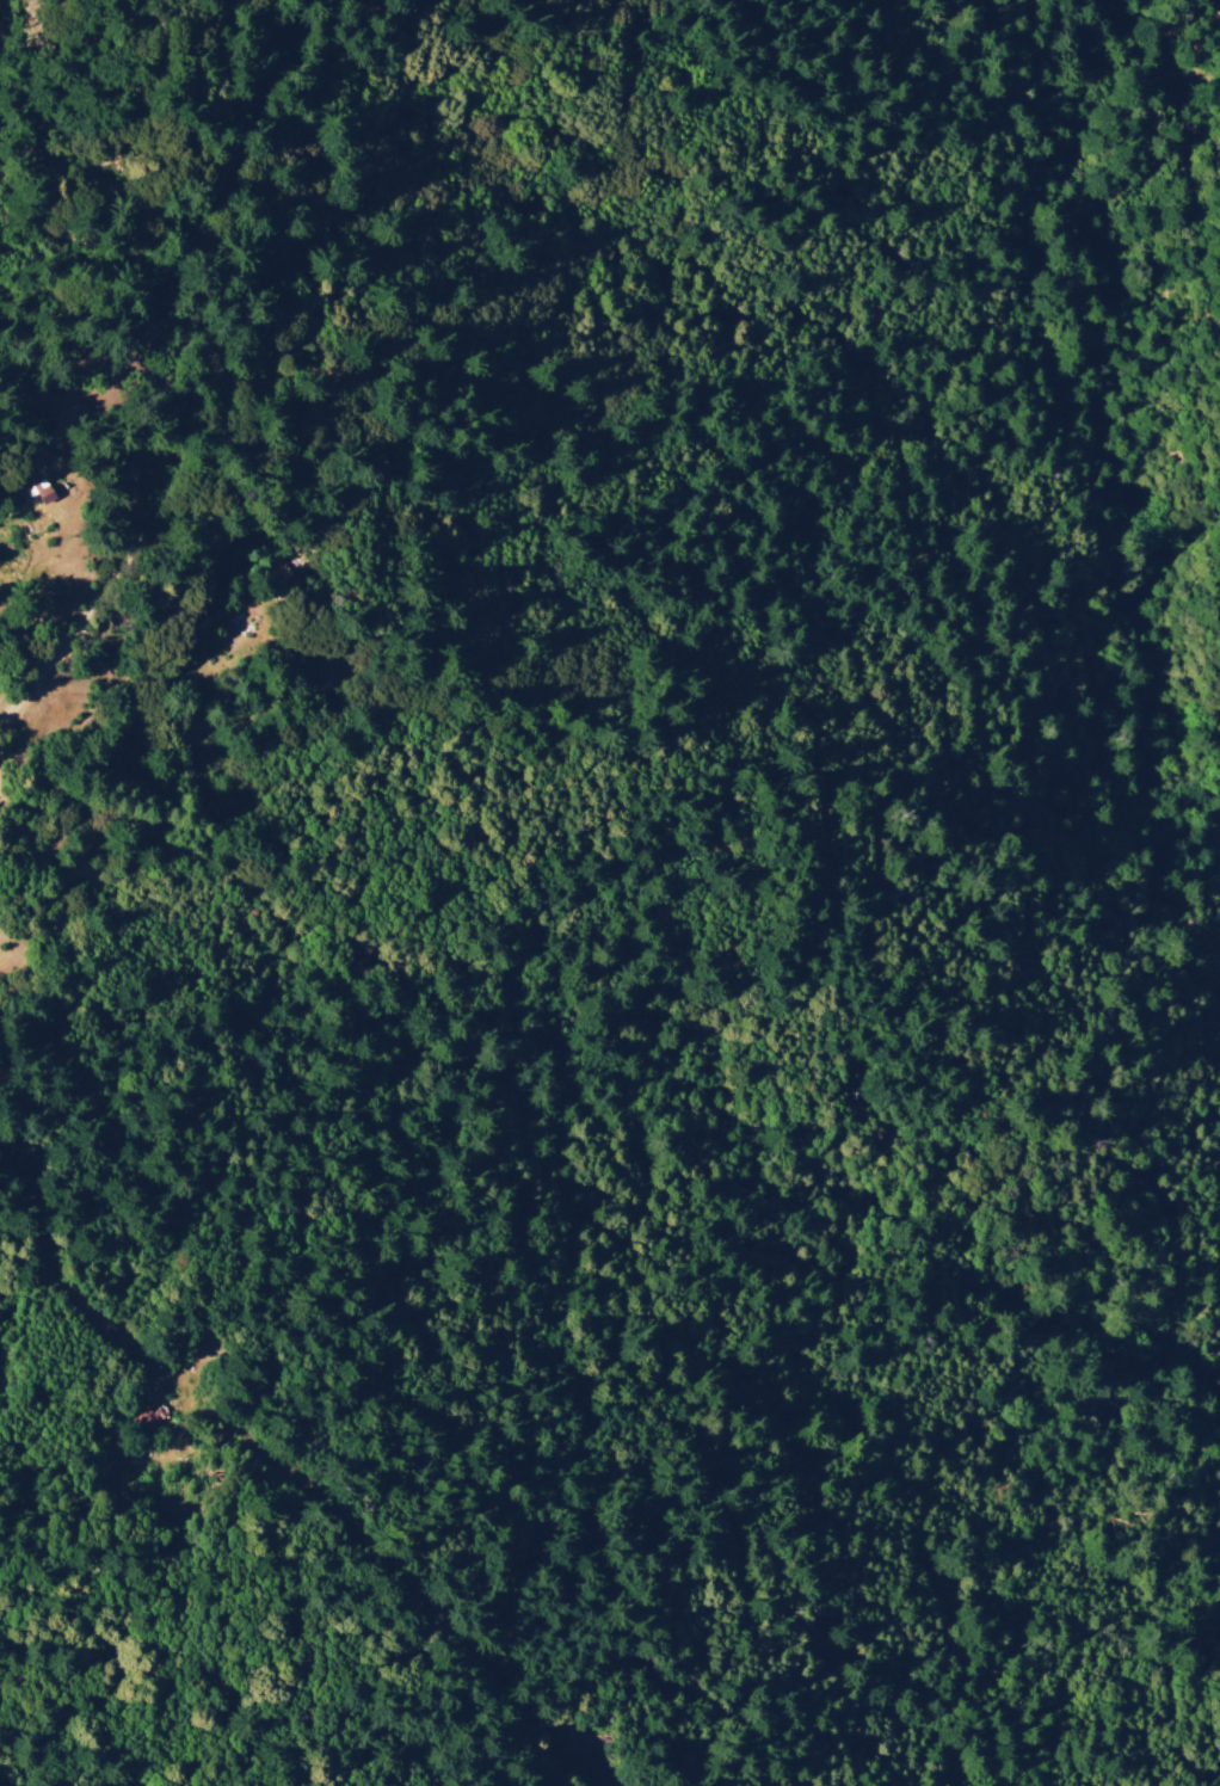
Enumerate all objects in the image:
road: (178, 380)

